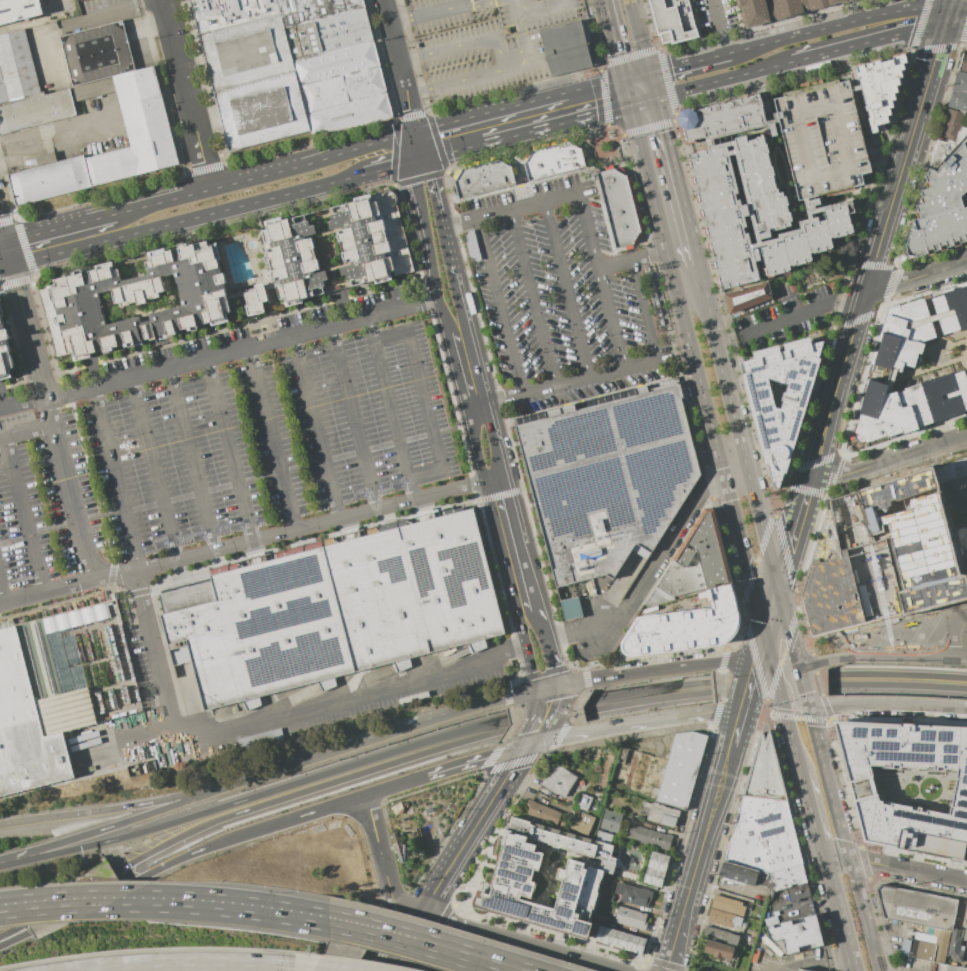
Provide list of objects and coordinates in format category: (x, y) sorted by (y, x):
building: (476, 1)
road: (448, 7)
building: (775, 8)
road: (950, 8)
building: (18, 10)
road: (533, 10)
parking lot: (713, 16)
traffic signals: (948, 16)
road: (957, 17)
building: (669, 21)
road: (73, 24)
road: (838, 25)
road: (721, 26)
road: (390, 30)
road: (638, 36)
road: (614, 39)
road: (871, 41)
parking lot: (485, 43)
building: (565, 48)
road: (524, 49)
road: (500, 51)
road: (688, 62)
building: (963, 64)
building: (293, 70)
traffic signals: (649, 73)
road: (636, 76)
road: (402, 78)
traffic signals: (624, 79)
road: (724, 79)
building: (960, 82)
road: (652, 84)
road: (594, 85)
building: (854, 88)
building: (878, 88)
building: (26, 89)
road: (626, 91)
road: (185, 94)
traffic signals: (656, 96)
road: (642, 99)
building: (958, 100)
traffic signals: (629, 103)
road: (490, 112)
road: (410, 113)
building: (776, 116)
building: (728, 121)
road: (555, 122)
building: (146, 124)
building: (950, 124)
road: (57, 125)
traffic signals: (414, 132)
building: (825, 141)
parking lot: (825, 141)
road: (421, 143)
road: (412, 145)
road: (455, 147)
building: (710, 148)
traffic signals: (428, 154)
road: (906, 154)
road: (419, 156)
traffic signals: (410, 159)
building: (548, 162)
road: (386, 165)
road: (675, 170)
road: (264, 173)
road: (647, 177)
building: (478, 178)
road: (434, 184)
building: (942, 199)
building: (618, 207)
building: (812, 208)
road: (511, 211)
road: (186, 218)
building: (756, 218)
road: (58, 228)
road: (588, 233)
road: (2, 234)
building: (370, 241)
road: (2, 243)
road: (426, 247)
road: (679, 248)
road: (7, 254)
building: (293, 259)
road: (632, 261)
road: (5, 267)
road: (916, 277)
road: (566, 291)
building: (749, 297)
road: (533, 299)
parking lot: (561, 299)
building: (144, 304)
road: (500, 308)
road: (644, 312)
road: (802, 314)
parking lot: (786, 316)
road: (610, 321)
road: (27, 333)
road: (471, 345)
building: (8, 346)
road: (241, 351)
road: (718, 357)
building: (894, 363)
road: (695, 364)
road: (455, 372)
road: (837, 384)
road: (560, 385)
road: (424, 402)
road: (22, 404)
road: (389, 409)
road: (353, 418)
road: (315, 428)
road: (26, 432)
building: (777, 436)
parking lot: (224, 437)
road: (272, 439)
road: (229, 450)
road: (191, 459)
road: (889, 460)
road: (154, 469)
building: (951, 470)
road: (735, 473)
road: (116, 478)
building: (607, 479)
road: (68, 491)
road: (24, 516)
road: (494, 527)
building: (966, 528)
road: (762, 529)
road: (792, 532)
building: (962, 538)
road: (251, 540)
road: (520, 543)
building: (885, 556)
road: (745, 557)
road: (966, 557)
building: (696, 561)
building: (966, 566)
road: (648, 576)
traffic signals: (778, 588)
road: (2, 596)
building: (571, 608)
building: (335, 610)
road: (770, 614)
road: (541, 625)
building: (685, 626)
road: (788, 626)
road: (960, 639)
traffic signals: (763, 640)
building: (180, 655)
road: (882, 659)
road: (550, 664)
road: (529, 670)
road: (658, 670)
road: (774, 671)
road: (897, 674)
road: (749, 678)
road: (803, 687)
road: (897, 688)
traffic signals: (547, 690)
road: (647, 690)
road: (547, 695)
building: (38, 702)
traffic signals: (783, 703)
road: (646, 704)
road: (887, 705)
road: (795, 709)
road: (545, 710)
traffic signals: (809, 710)
road: (445, 716)
road: (267, 719)
road: (787, 719)
road: (632, 723)
road: (538, 727)
road: (734, 731)
building: (259, 739)
road: (531, 740)
traffic signals: (528, 745)
road: (795, 753)
road: (476, 760)
road: (363, 761)
road: (283, 767)
building: (681, 769)
building: (764, 771)
road: (361, 775)
building: (558, 780)
road: (395, 784)
road: (828, 784)
building: (907, 785)
building: (583, 802)
road: (111, 810)
building: (542, 813)
building: (659, 814)
road: (811, 816)
building: (611, 821)
road: (127, 822)
building: (582, 823)
road: (246, 833)
road: (704, 835)
road: (128, 837)
building: (649, 837)
road: (167, 843)
building: (768, 844)
road: (456, 857)
road: (16, 859)
road: (835, 859)
road: (382, 860)
building: (656, 869)
road: (908, 869)
building: (738, 873)
building: (579, 876)
road: (827, 879)
building: (633, 894)
building: (607, 897)
road: (173, 904)
building: (728, 906)
road: (801, 907)
building: (915, 907)
road: (863, 915)
building: (600, 918)
building: (631, 918)
building: (724, 918)
road: (454, 926)
building: (965, 931)
road: (10, 933)
building: (753, 933)
building: (797, 934)
road: (841, 935)
building: (720, 936)
road: (17, 939)
building: (620, 939)
building: (954, 945)
road: (428, 946)
road: (672, 947)
building: (929, 947)
road: (453, 949)
building: (719, 950)
road: (548, 953)
road: (781, 954)
road: (202, 966)
building: (949, 967)
building: (800, 969)
building: (960, 969)

